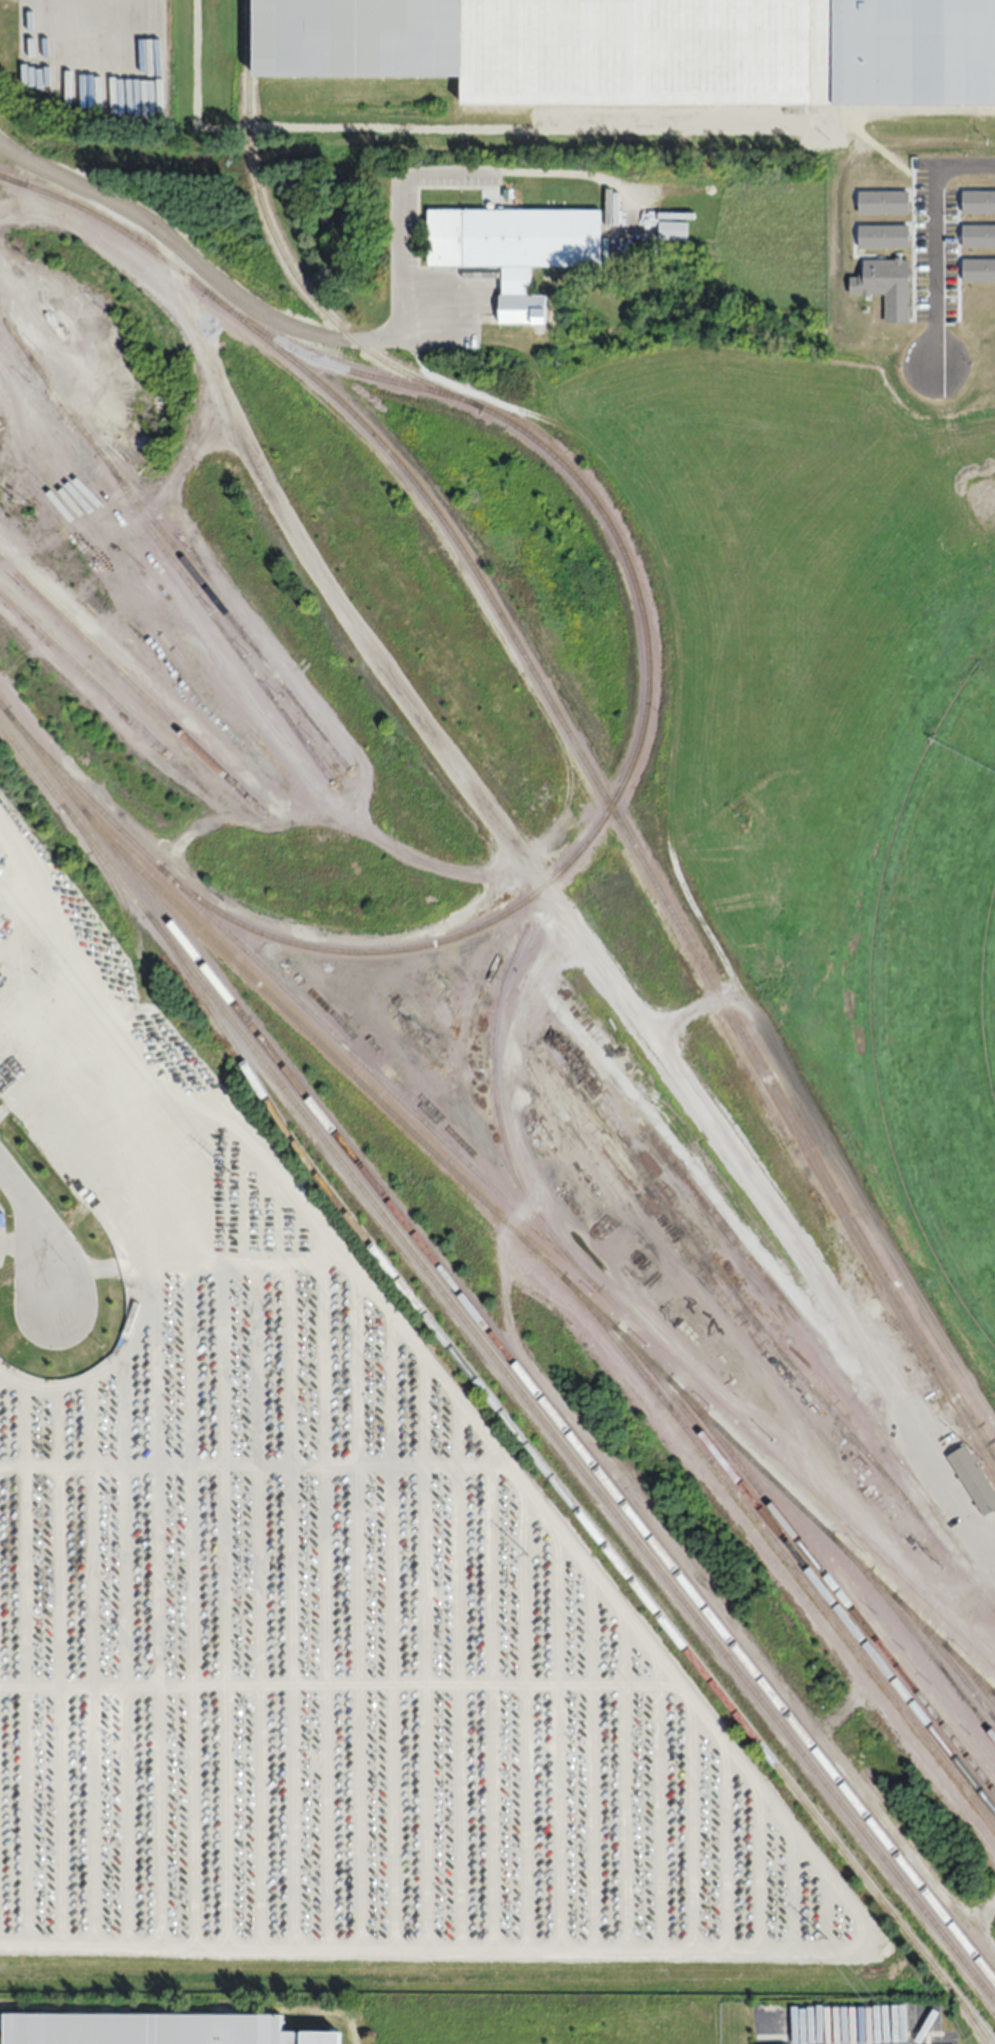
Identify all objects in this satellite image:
building: (639, 48)
railway: (11, 177)
road: (88, 228)
building: (673, 229)
building: (514, 247)
railway: (280, 251)
road: (194, 259)
railway: (170, 542)
railway: (629, 570)
railway: (211, 617)
crop: (840, 635)
railway: (82, 669)
railway: (131, 684)
railway: (634, 846)
road: (13, 855)
road: (665, 856)
road: (554, 898)
road: (78, 958)
road: (692, 1008)
railway: (150, 1071)
railway: (498, 1117)
railway: (112, 1160)
road: (0, 1166)
railway: (498, 1192)
road: (38, 1227)
road: (20, 1239)
railway: (536, 1251)
road: (336, 1287)
railway: (761, 1327)
railway: (497, 1341)
railway: (820, 1352)
building: (265, 1355)
railway: (497, 1362)
road: (642, 1395)
building: (226, 1448)
building: (974, 1481)
railway: (558, 1487)
railway: (779, 1551)
railway: (806, 1566)
railway: (832, 1583)
building: (168, 1588)
railway: (914, 1634)
railway: (945, 1655)
railway: (970, 1672)
railway: (994, 1690)
road: (961, 1971)
railway: (966, 2013)
building: (139, 2032)

